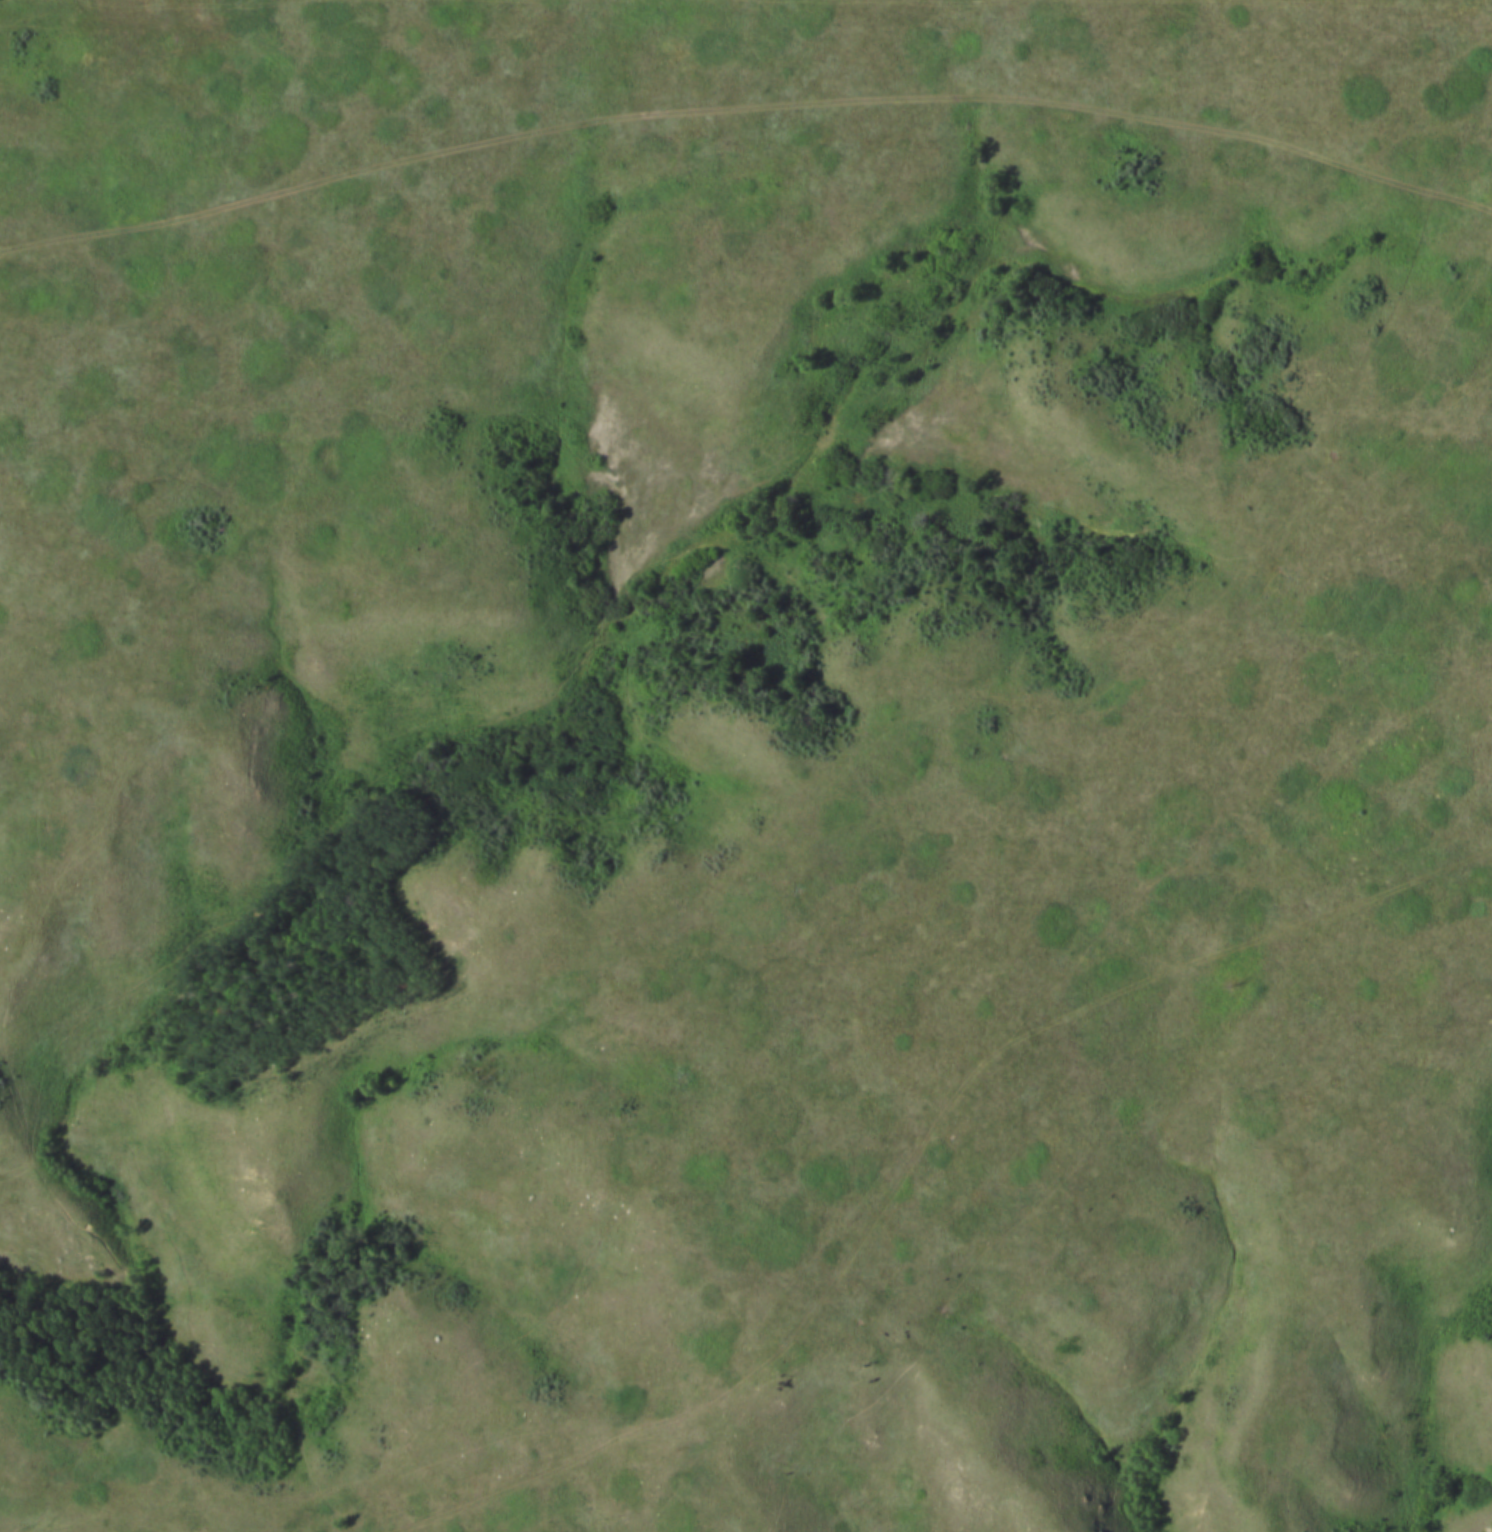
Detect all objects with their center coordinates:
road: (745, 105)

